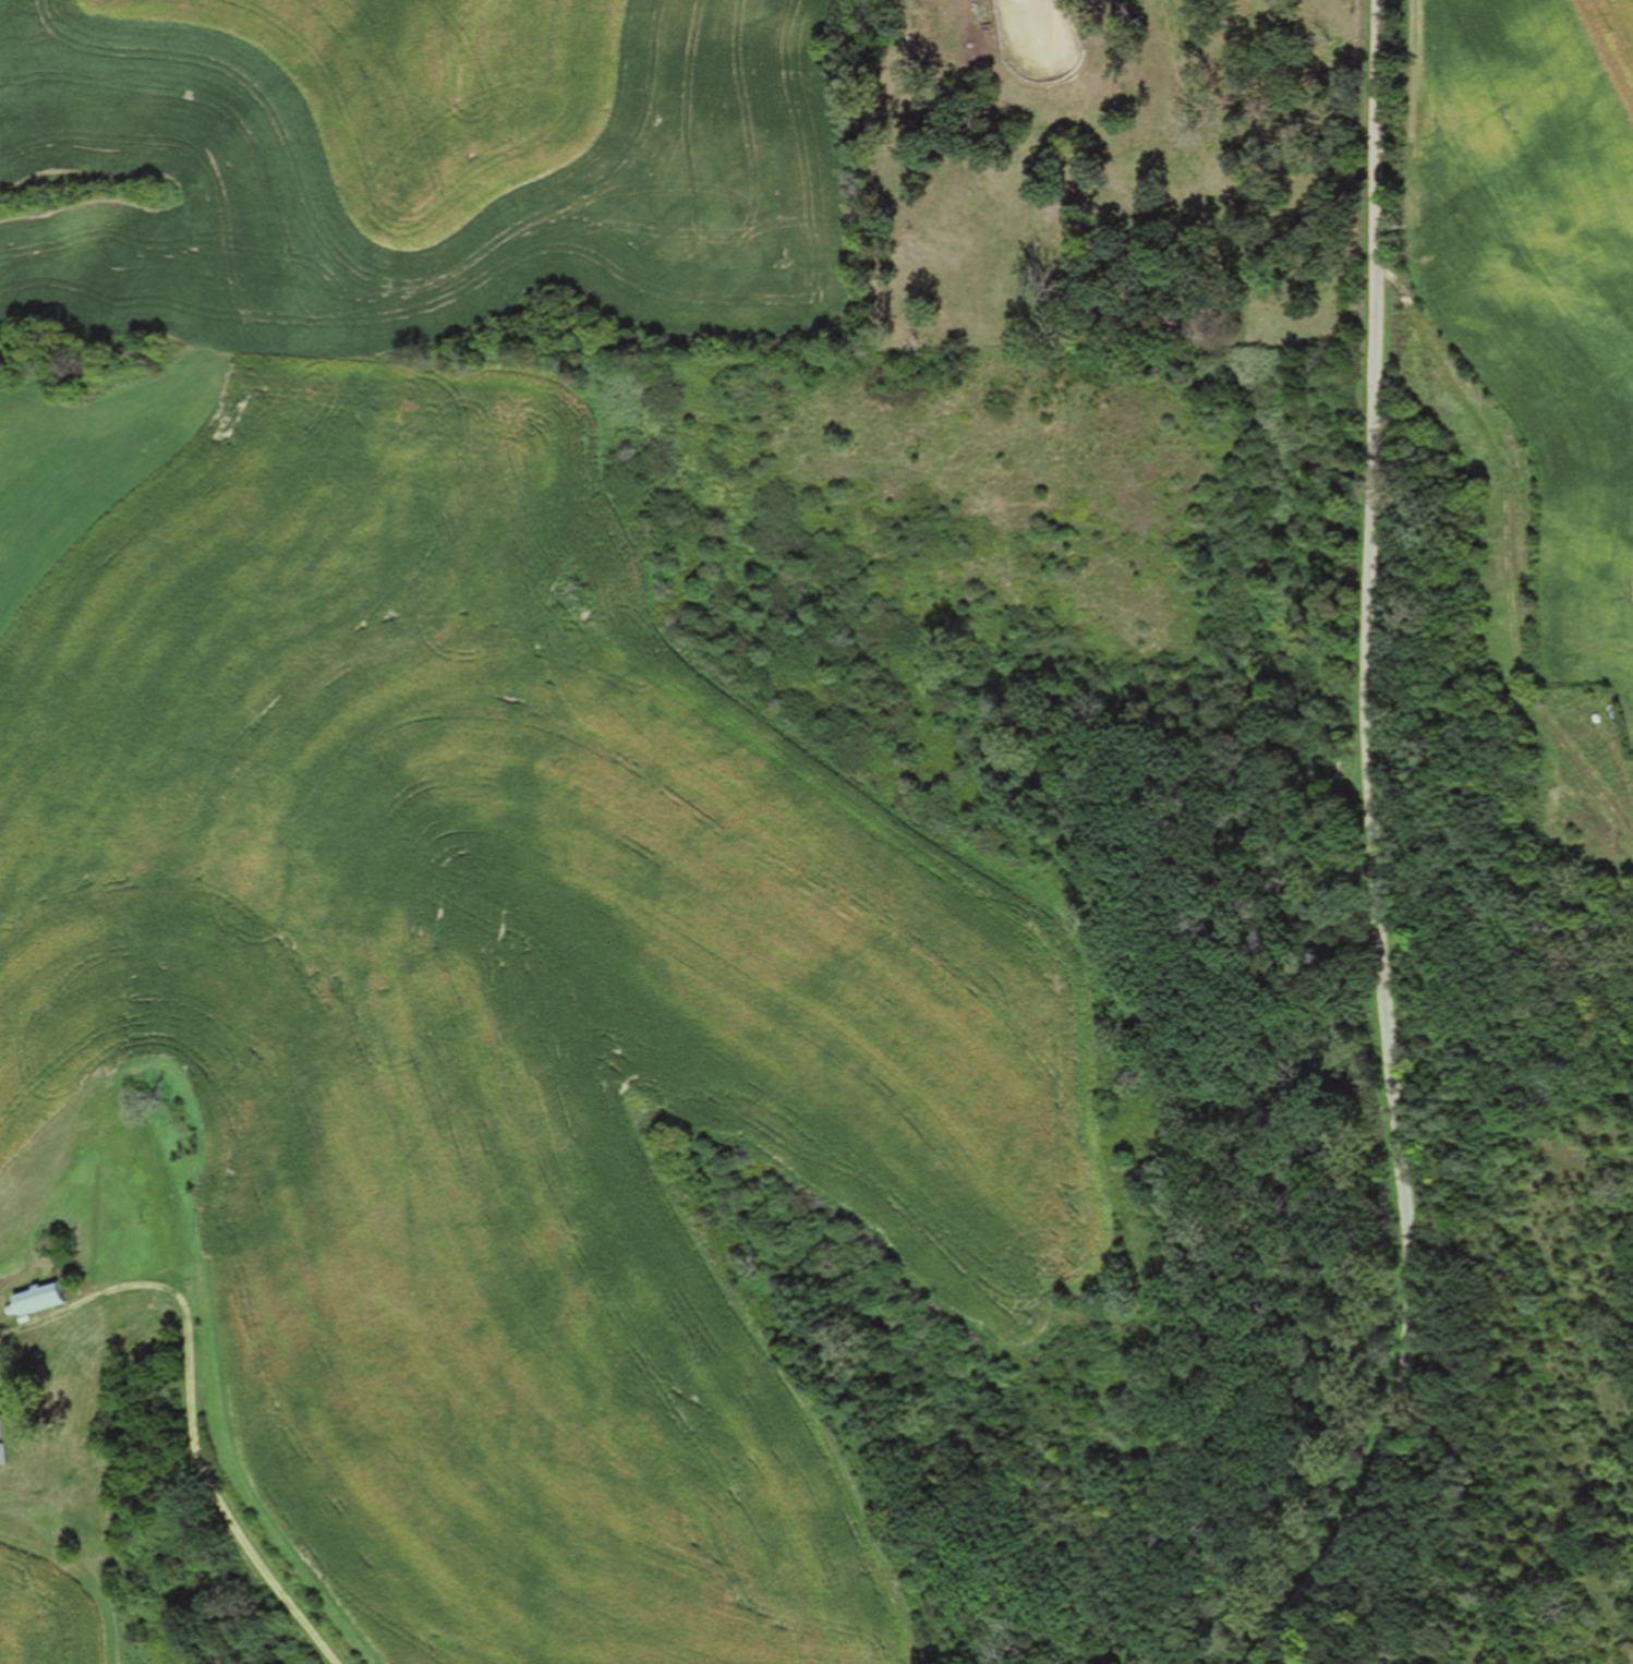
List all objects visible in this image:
building: (1586, 711)
road: (1372, 851)
building: (32, 1300)
building: (0, 1466)
building: (72, 1526)
road: (256, 1538)

